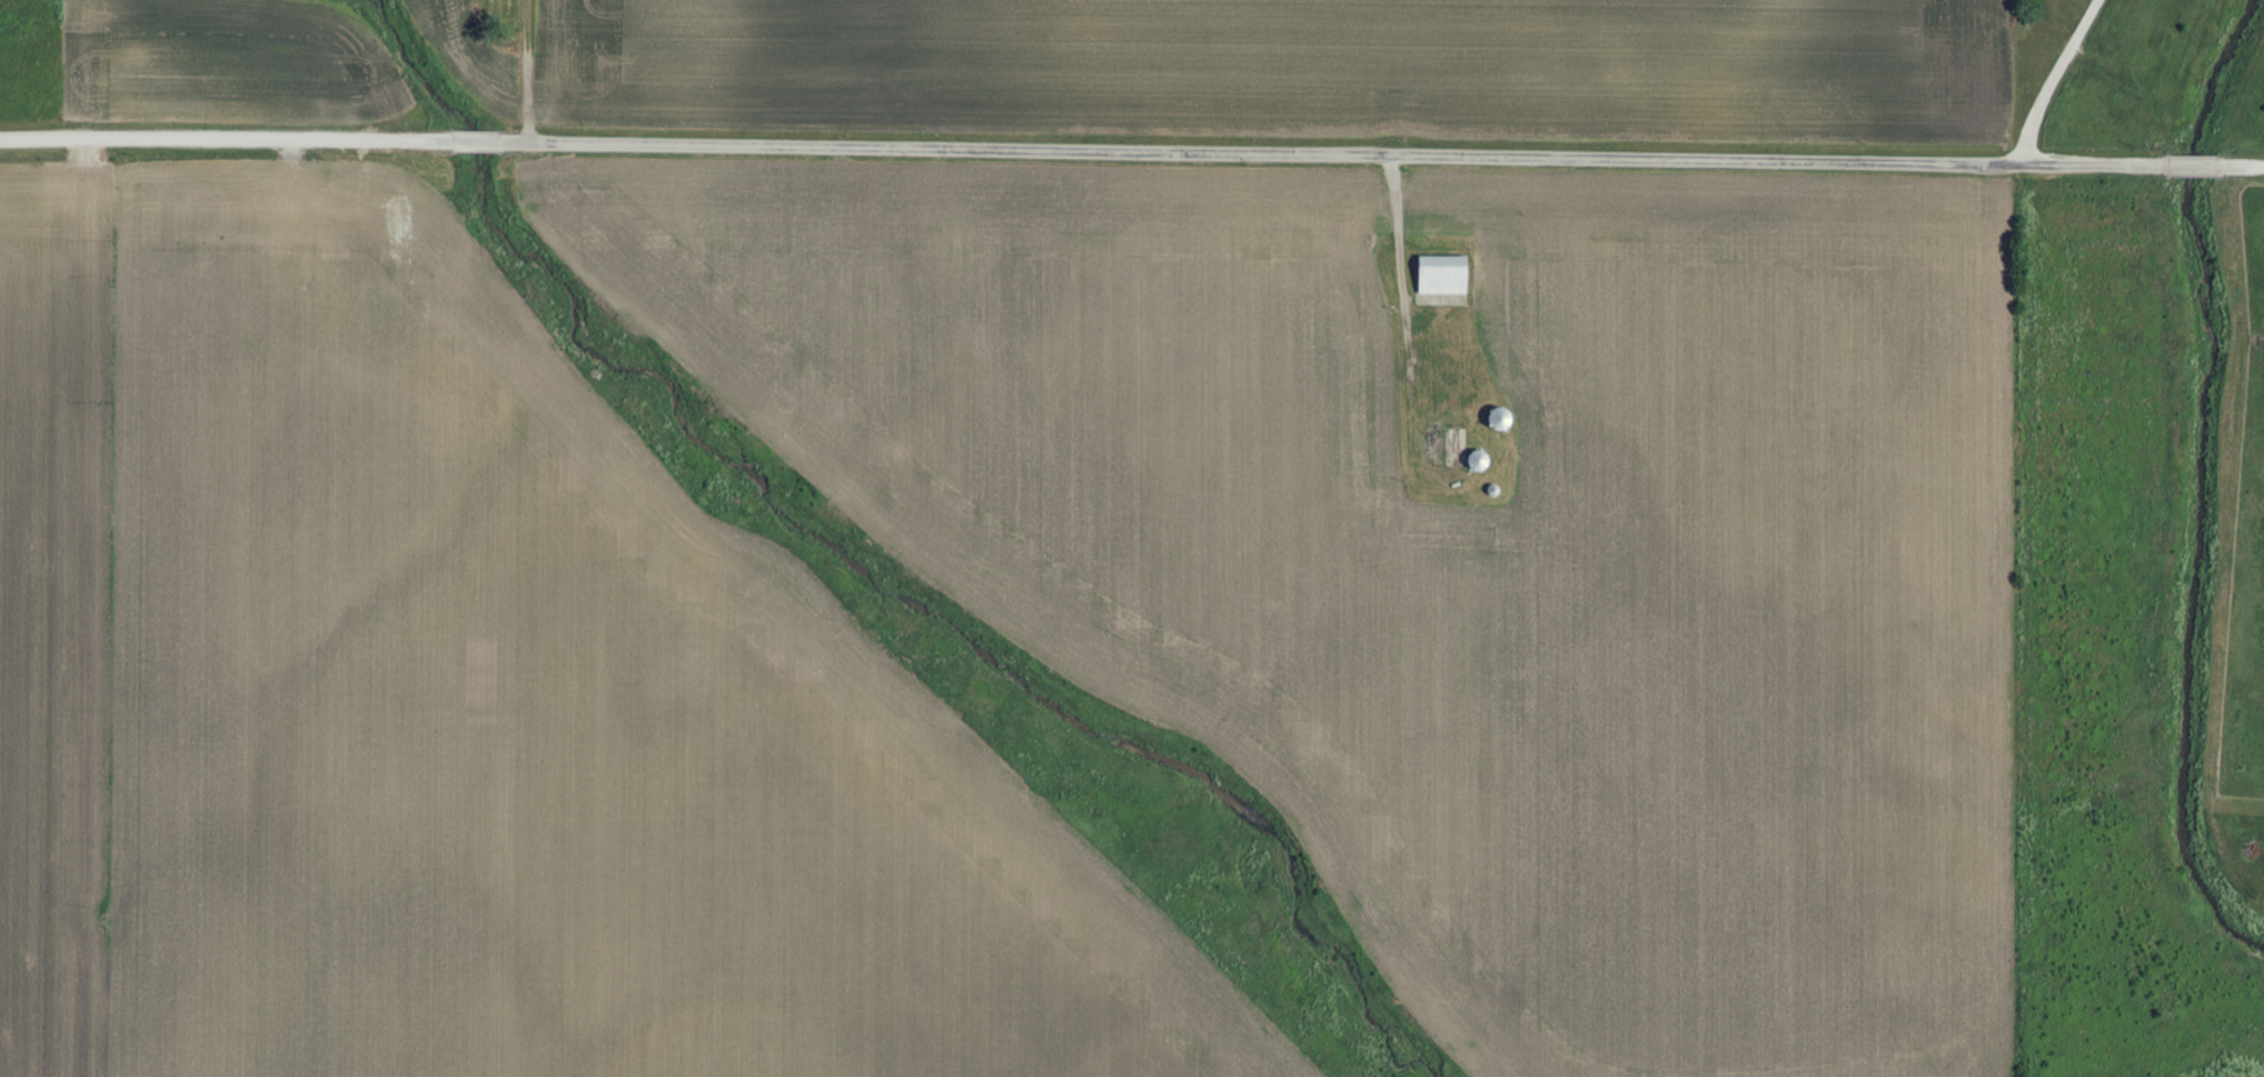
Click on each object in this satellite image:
road: (2050, 78)
road: (1131, 148)
building: (1441, 276)

